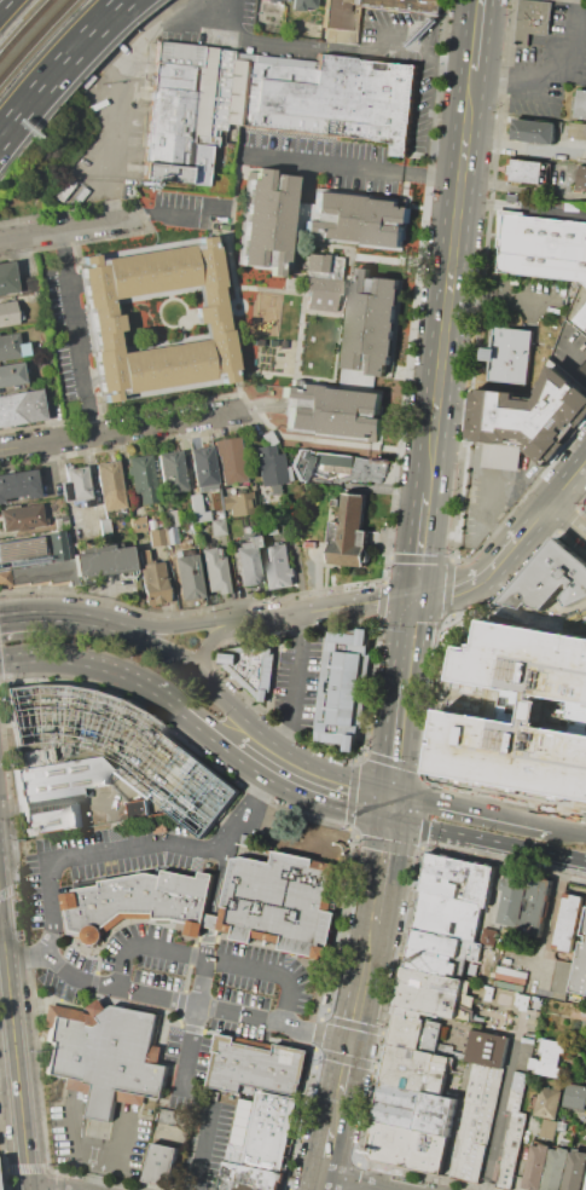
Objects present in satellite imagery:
building: (269, 0)
building: (278, 0)
building: (301, 4)
building: (404, 6)
road: (231, 15)
building: (533, 19)
building: (341, 21)
railway: (23, 27)
road: (399, 31)
road: (480, 34)
railway: (33, 36)
road: (350, 47)
road: (79, 54)
road: (65, 56)
road: (138, 65)
road: (550, 67)
road: (475, 79)
building: (324, 97)
building: (581, 104)
building: (185, 111)
road: (7, 125)
building: (533, 131)
building: (576, 131)
road: (356, 164)
building: (524, 171)
building: (581, 178)
road: (524, 207)
building: (267, 220)
building: (358, 220)
road: (94, 229)
building: (543, 245)
building: (314, 262)
building: (151, 272)
building: (7, 278)
building: (30, 284)
road: (451, 290)
building: (320, 293)
road: (503, 301)
building: (214, 311)
building: (7, 313)
building: (581, 317)
building: (372, 323)
building: (103, 327)
road: (75, 336)
building: (12, 346)
building: (509, 354)
building: (40, 362)
road: (562, 362)
building: (164, 366)
building: (582, 368)
building: (11, 374)
building: (45, 392)
building: (332, 410)
building: (14, 411)
building: (532, 411)
road: (121, 433)
building: (501, 455)
building: (230, 461)
building: (271, 468)
building: (366, 468)
building: (203, 469)
building: (172, 472)
building: (143, 479)
building: (17, 485)
building: (74, 485)
building: (109, 486)
road: (483, 487)
road: (91, 491)
road: (581, 502)
building: (236, 503)
building: (585, 507)
building: (196, 509)
road: (581, 512)
road: (256, 514)
building: (168, 515)
building: (213, 515)
building: (21, 516)
road: (570, 518)
road: (565, 519)
building: (151, 525)
building: (104, 527)
building: (217, 527)
building: (346, 530)
building: (170, 535)
building: (156, 537)
road: (423, 545)
building: (56, 547)
building: (22, 550)
road: (514, 551)
building: (179, 554)
building: (143, 558)
building: (103, 561)
building: (248, 562)
parking lot: (314, 564)
building: (279, 566)
building: (215, 572)
building: (42, 573)
building: (4, 578)
building: (186, 578)
road: (317, 579)
building: (552, 579)
building: (152, 583)
road: (452, 587)
traffic signals: (419, 600)
road: (324, 608)
road: (29, 612)
road: (97, 616)
road: (523, 616)
road: (180, 625)
road: (413, 639)
road: (207, 642)
road: (92, 658)
building: (251, 668)
road: (197, 674)
parking lot: (297, 683)
road: (439, 687)
road: (295, 689)
building: (343, 692)
road: (443, 692)
fountain: (465, 695)
road: (465, 695)
road: (494, 699)
road: (488, 700)
building: (522, 712)
building: (37, 718)
road: (204, 726)
road: (400, 740)
power substation: (117, 752)
road: (260, 752)
road: (396, 761)
road: (333, 788)
building: (57, 792)
road: (352, 793)
traffic signals: (393, 803)
road: (471, 804)
building: (139, 809)
road: (253, 809)
road: (428, 809)
road: (568, 825)
road: (486, 840)
road: (387, 843)
road: (86, 855)
road: (382, 861)
building: (457, 879)
building: (280, 897)
building: (512, 897)
building: (138, 901)
road: (215, 902)
building: (534, 902)
building: (568, 920)
road: (1, 925)
building: (447, 928)
building: (489, 936)
building: (505, 957)
road: (211, 959)
building: (430, 961)
building: (580, 967)
parking lot: (174, 969)
building: (563, 976)
road: (359, 981)
road: (203, 983)
building: (488, 992)
building: (433, 994)
building: (521, 999)
road: (175, 1003)
building: (416, 1032)
traffic signals: (349, 1044)
road: (16, 1047)
building: (488, 1047)
building: (108, 1056)
building: (549, 1058)
building: (257, 1065)
road: (344, 1067)
building: (416, 1068)
building: (575, 1096)
building: (549, 1102)
road: (192, 1103)
road: (501, 1103)
building: (399, 1104)
road: (335, 1109)
building: (435, 1113)
building: (476, 1123)
building: (549, 1128)
building: (272, 1130)
building: (512, 1140)
building: (407, 1145)
road: (449, 1145)
building: (168, 1150)
road: (326, 1151)
road: (97, 1153)
building: (536, 1166)
building: (556, 1168)
road: (97, 1171)
building: (575, 1171)
building: (249, 1177)
road: (320, 1183)
road: (355, 1183)
road: (39, 1188)
road: (383, 1189)
building: (585, 1189)

